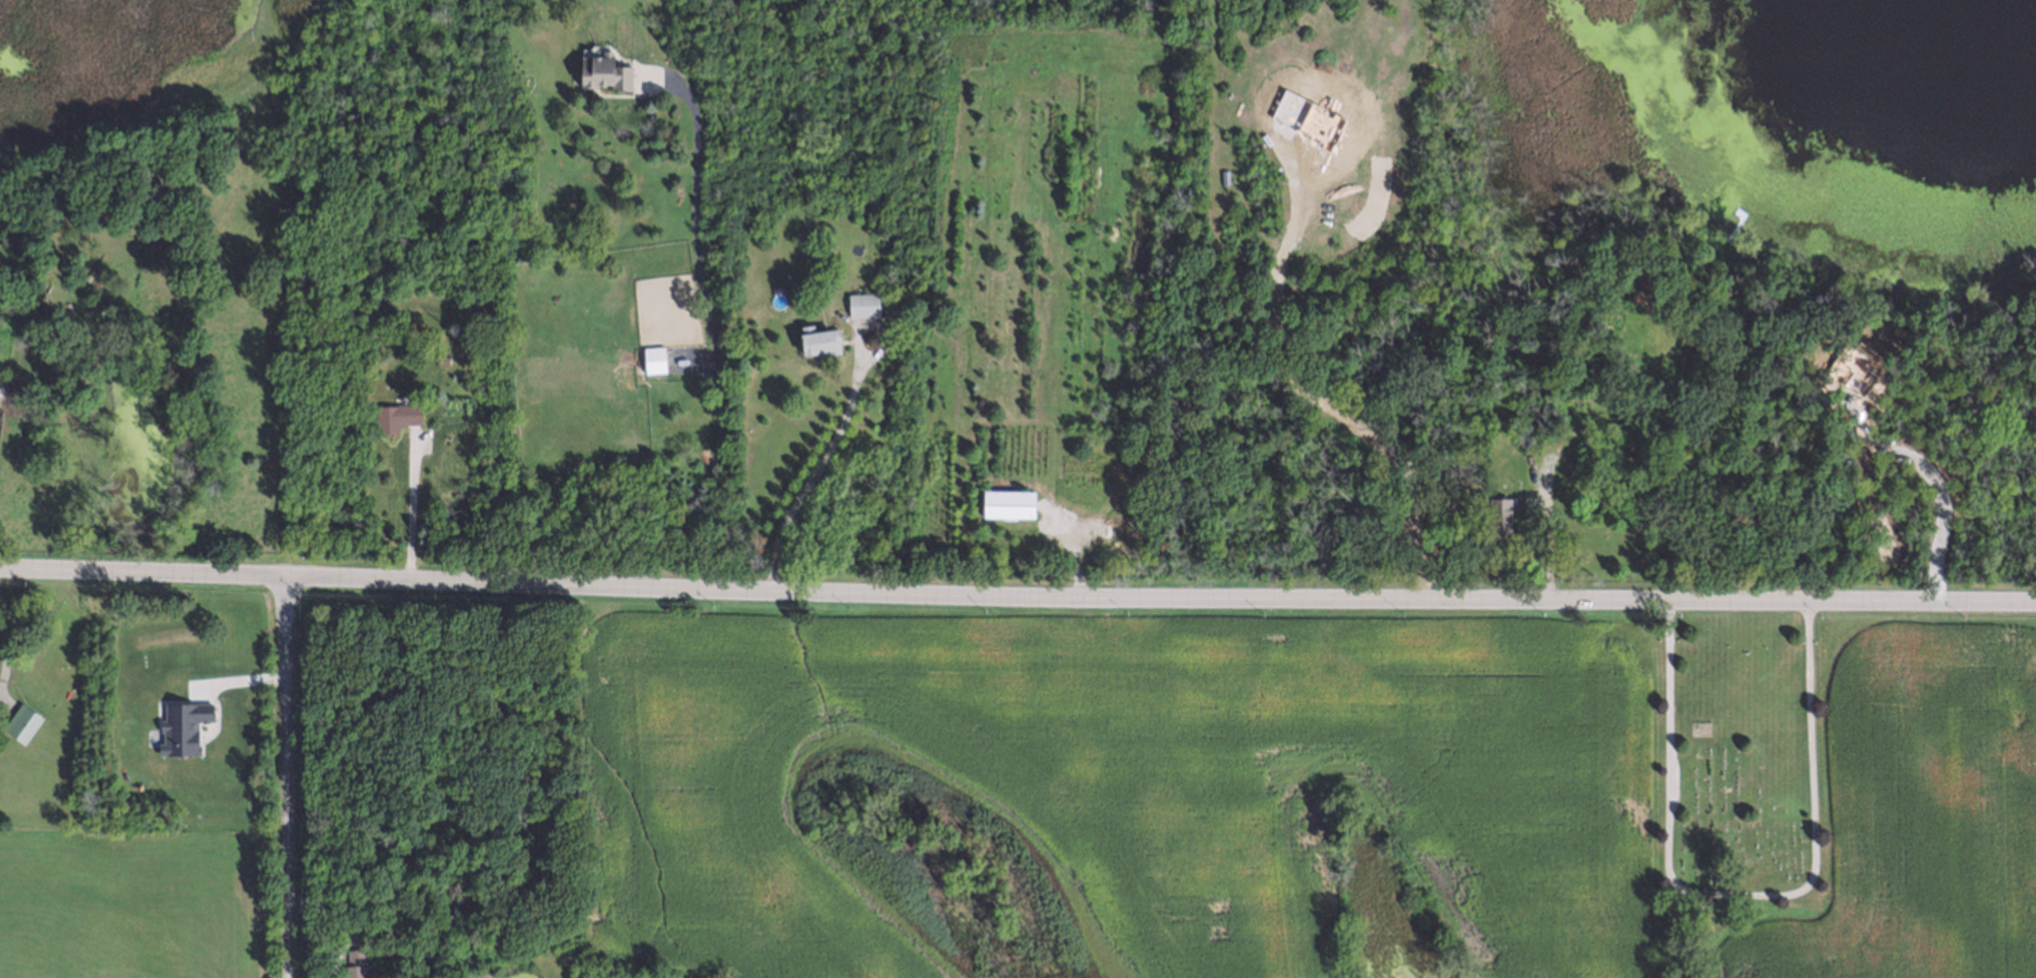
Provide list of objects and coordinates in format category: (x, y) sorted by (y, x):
building: (604, 67)
building: (878, 268)
building: (859, 303)
road: (710, 337)
building: (817, 339)
building: (670, 347)
building: (440, 357)
building: (650, 357)
building: (395, 414)
road: (815, 473)
road: (1936, 478)
building: (1003, 500)
road: (411, 510)
building: (1497, 515)
road: (1546, 549)
road: (1017, 596)
building: (22, 720)
road: (286, 778)
building: (354, 965)

